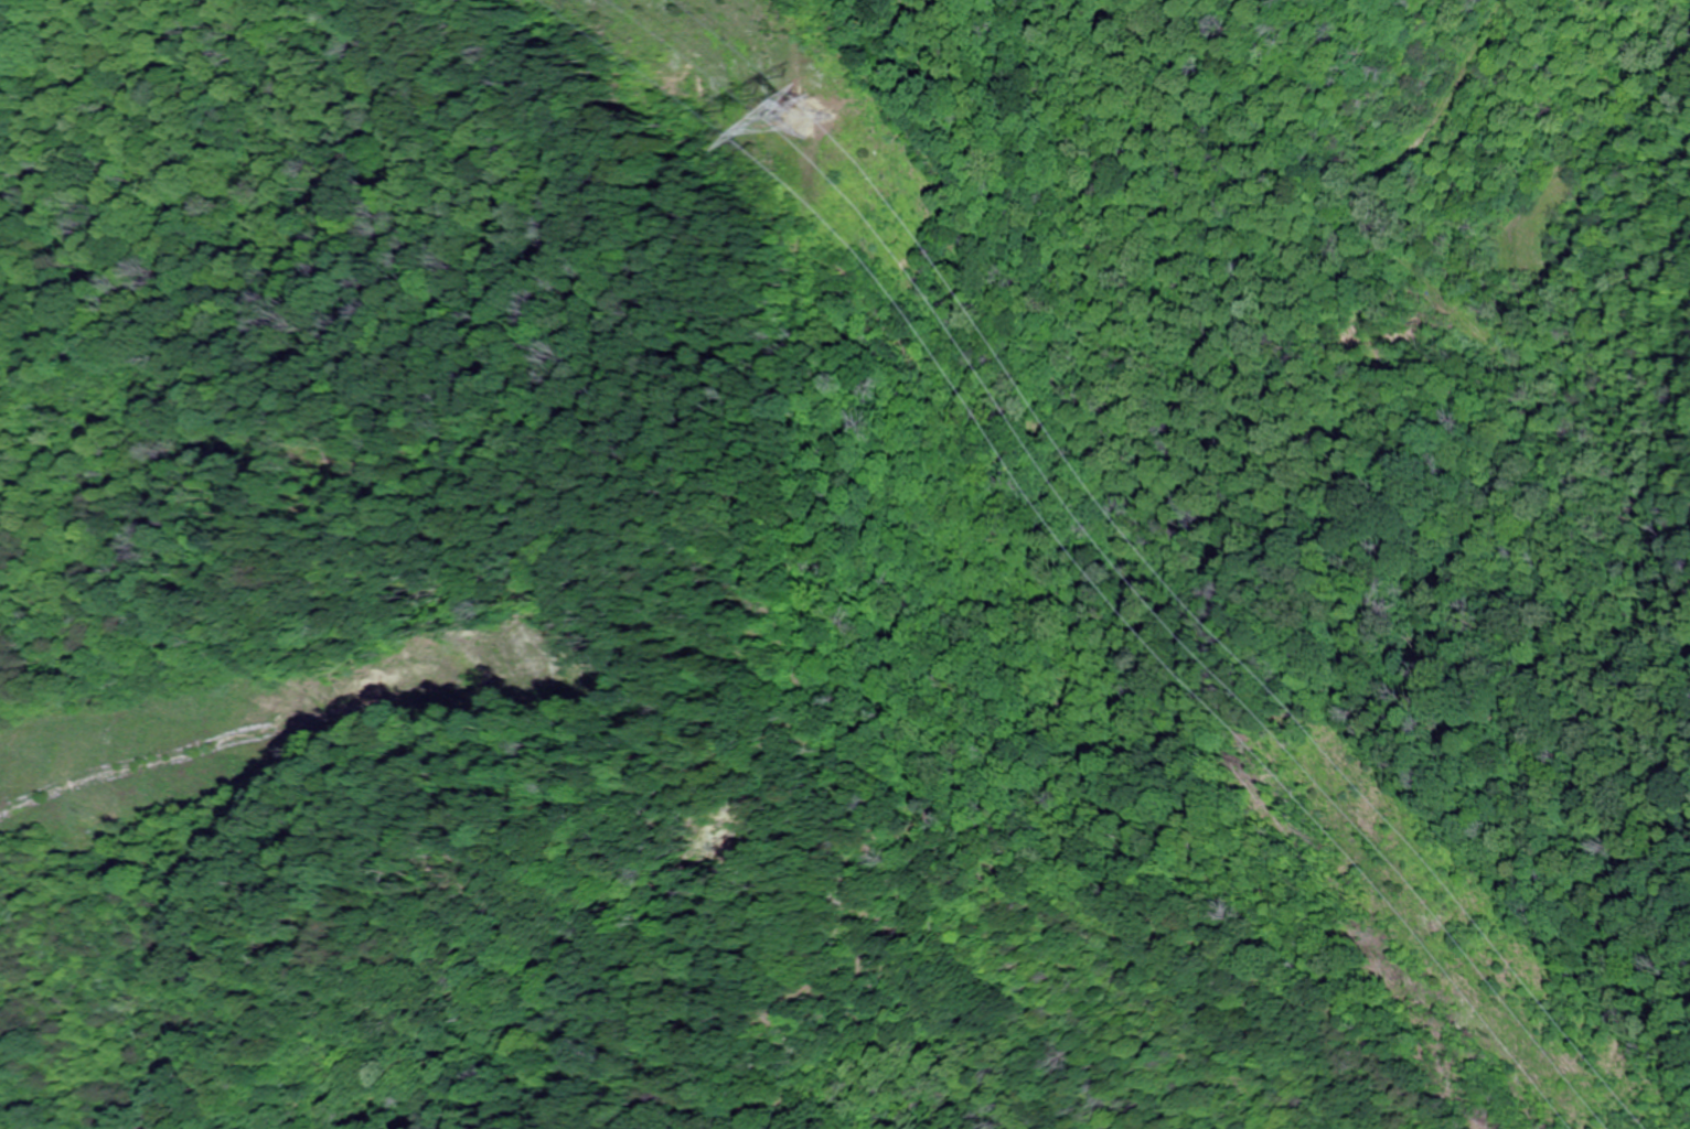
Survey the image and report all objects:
power tower: (757, 123)

